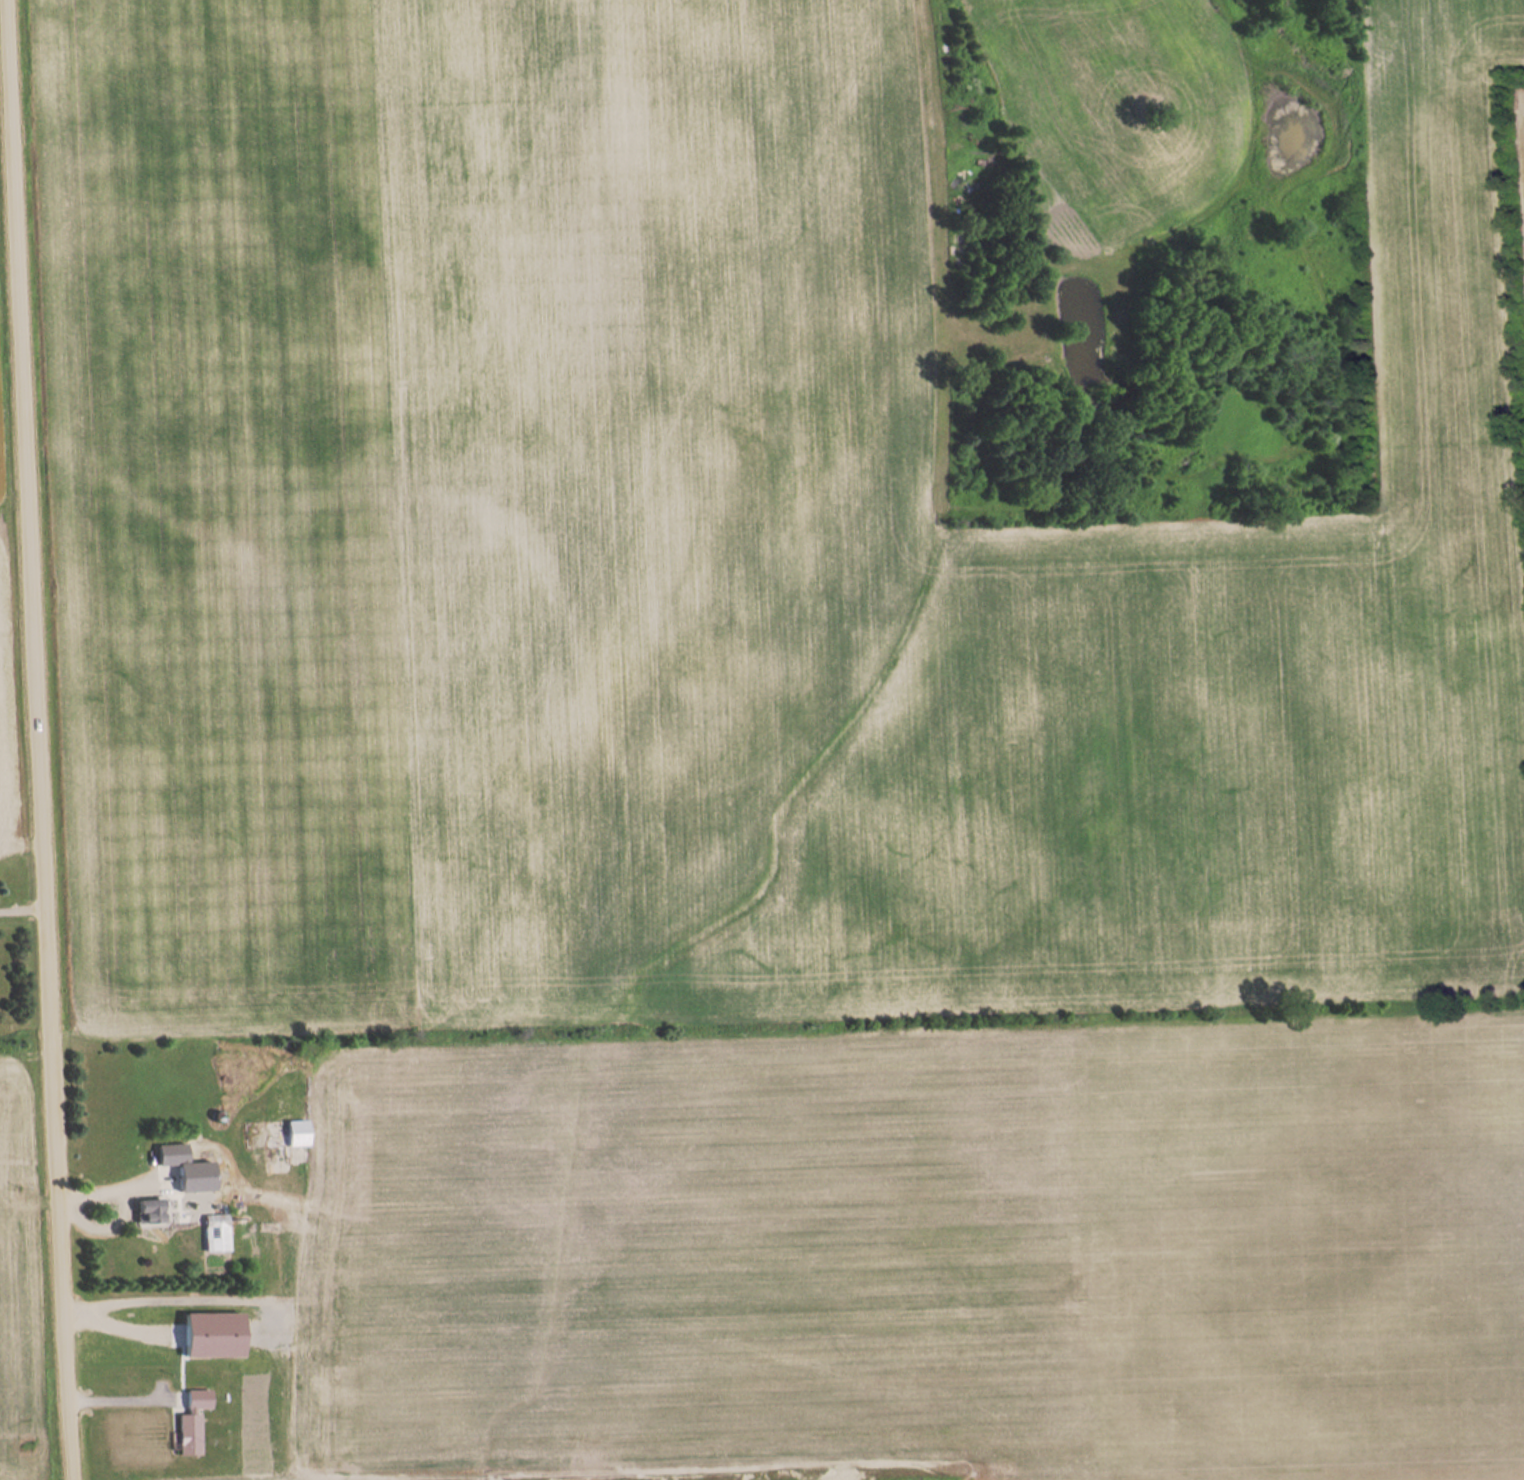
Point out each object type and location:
road: (42, 740)
building: (275, 1135)
building: (171, 1156)
building: (148, 1213)
building: (215, 1234)
building: (191, 1423)

